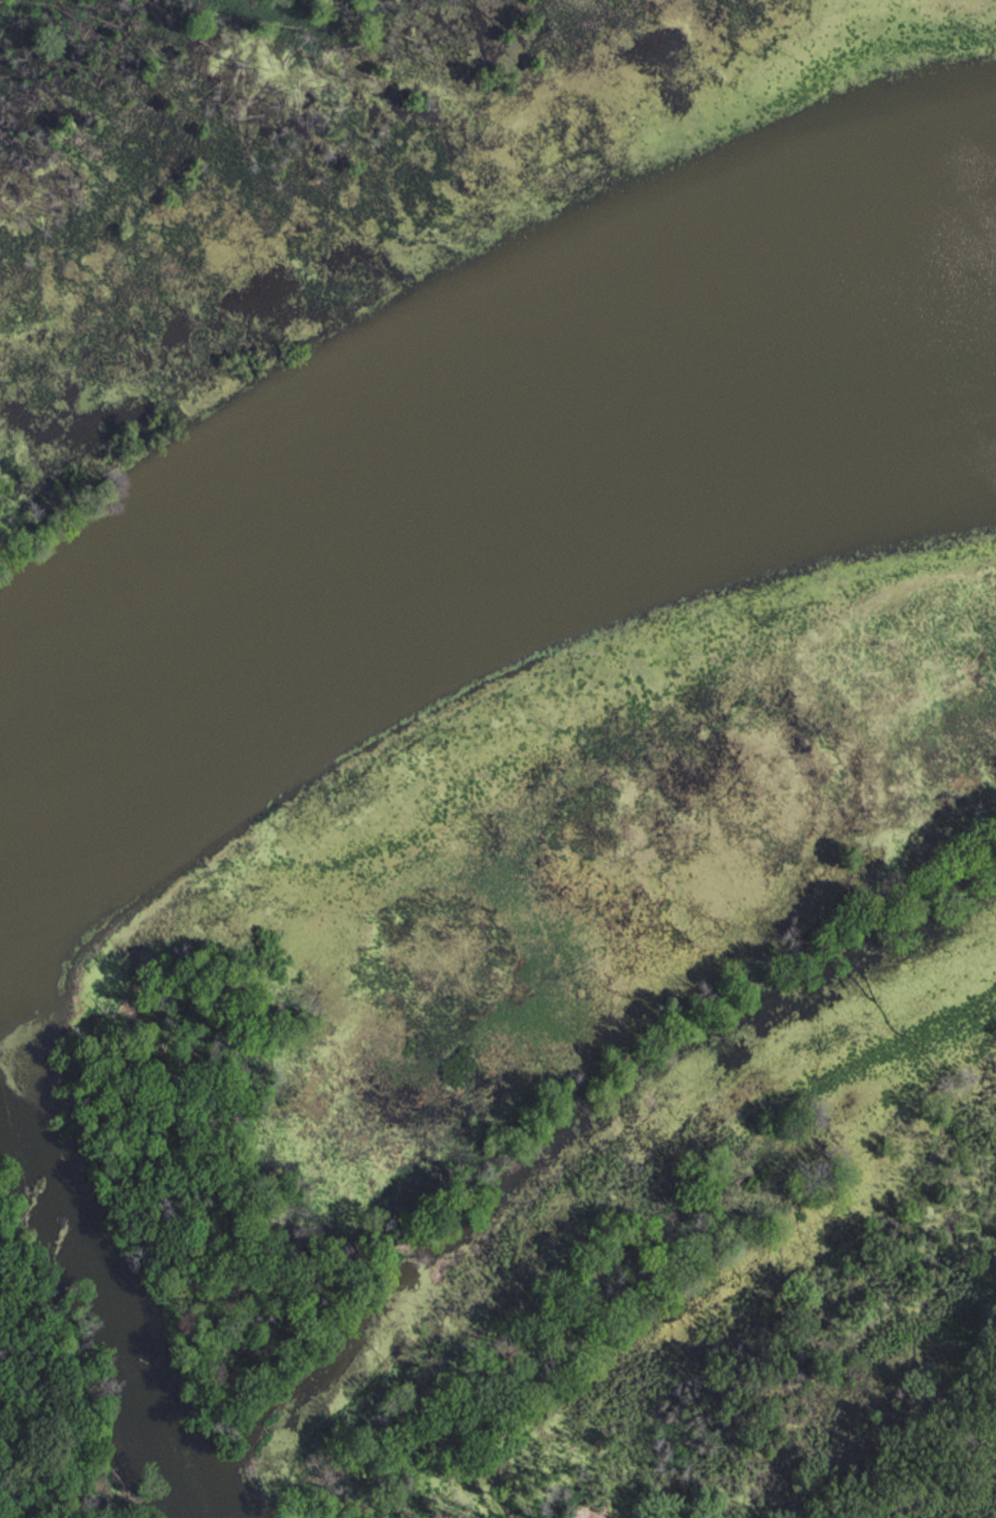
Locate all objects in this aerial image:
river: (460, 490)
river: (90, 1260)

